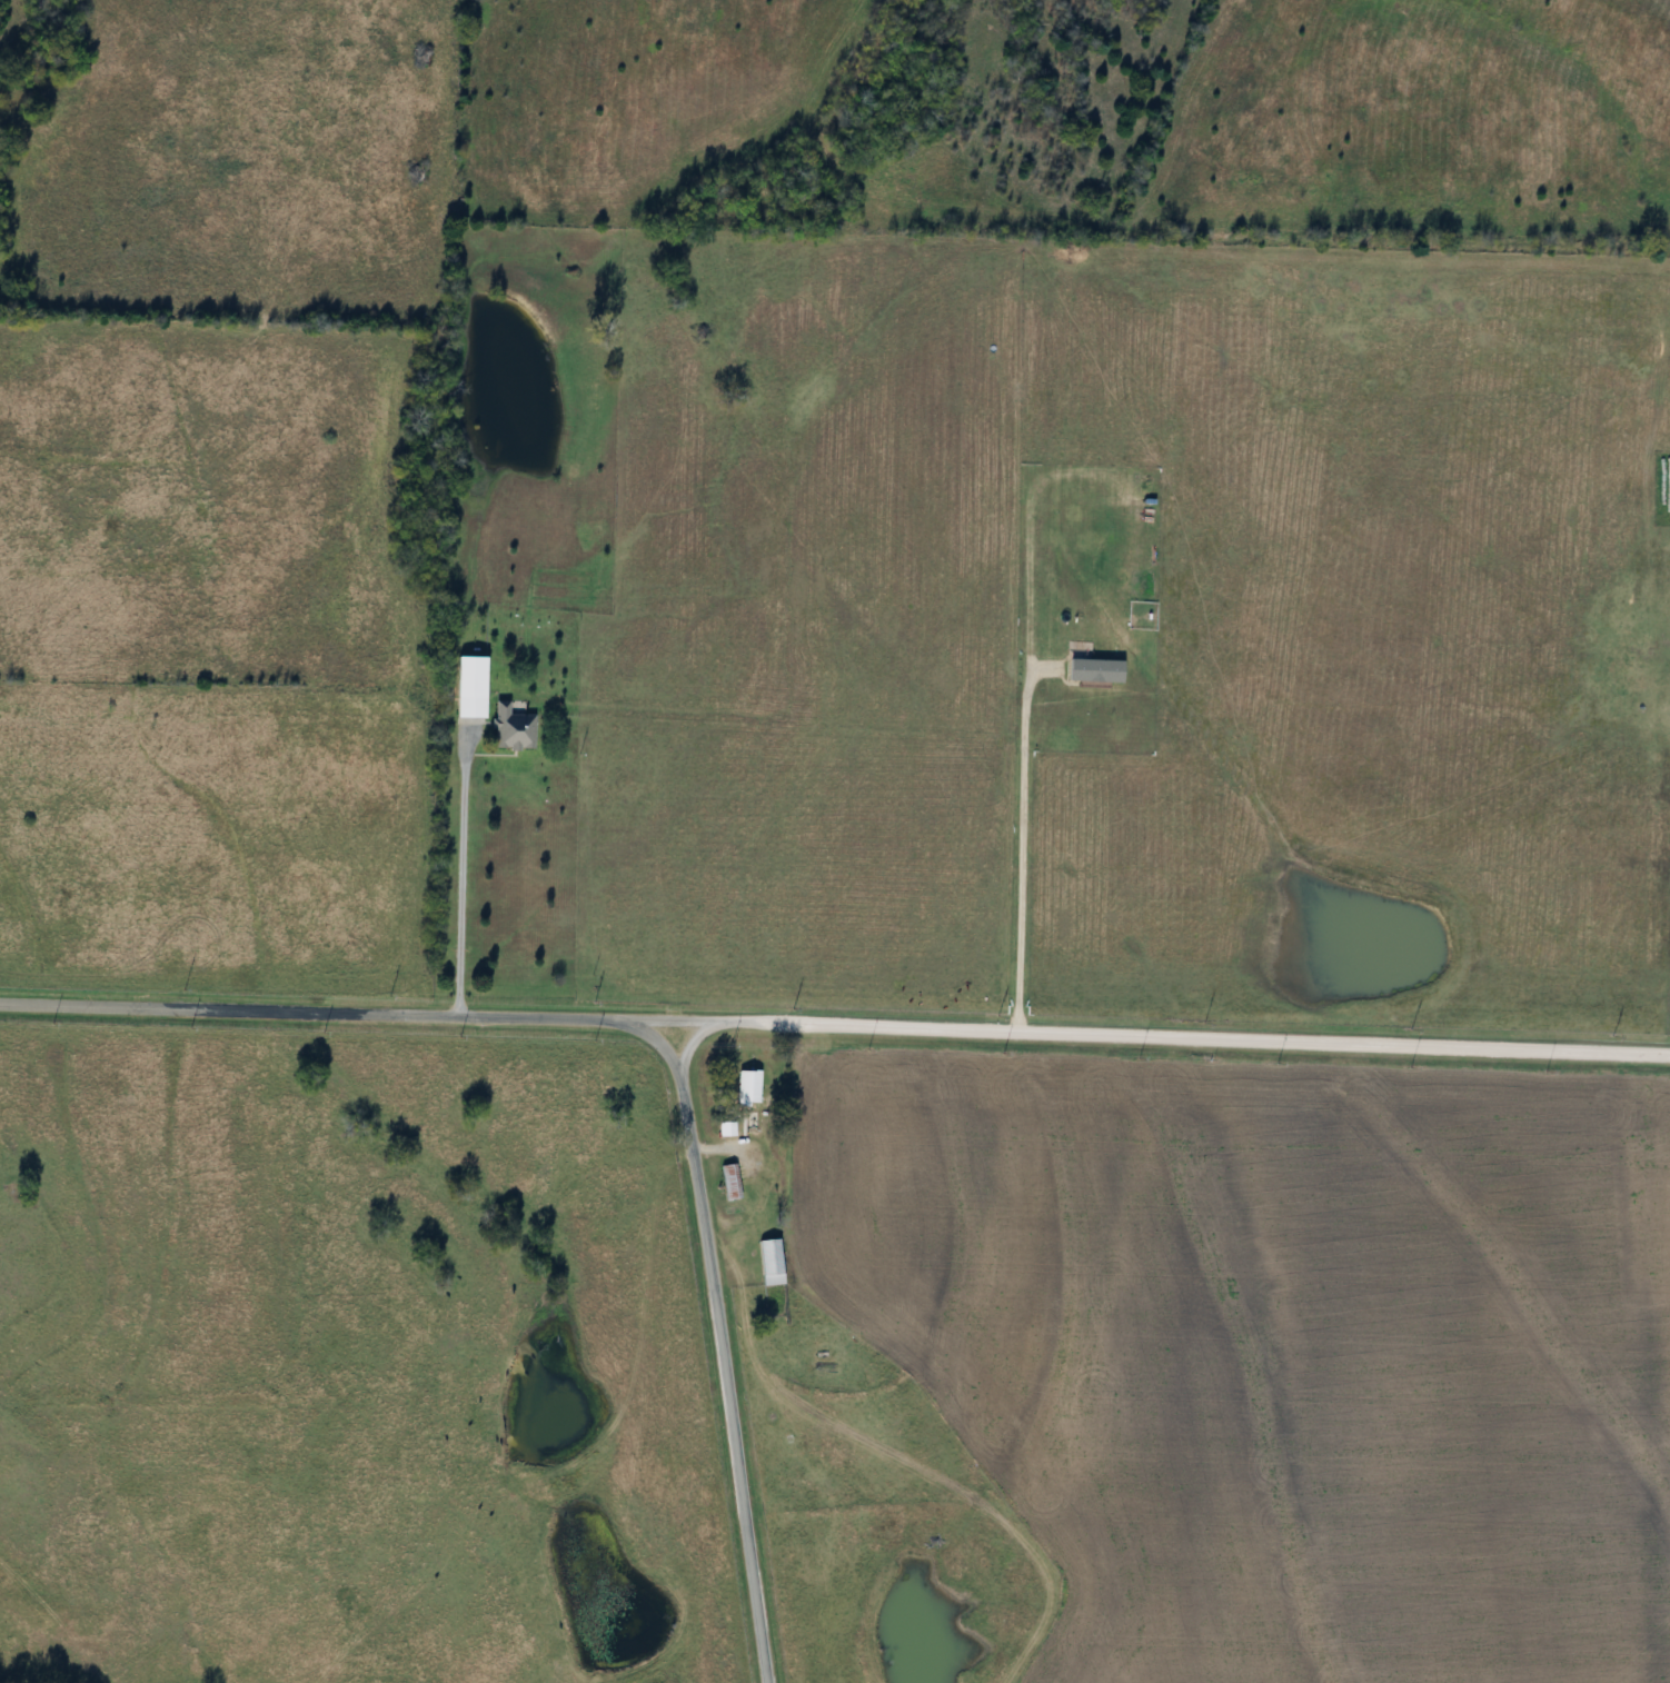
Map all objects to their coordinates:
building: (465, 687)
building: (510, 731)
road: (1012, 852)
road: (464, 870)
road: (835, 1025)
building: (746, 1088)
building: (726, 1128)
building: (727, 1183)
building: (768, 1263)
road: (720, 1351)

